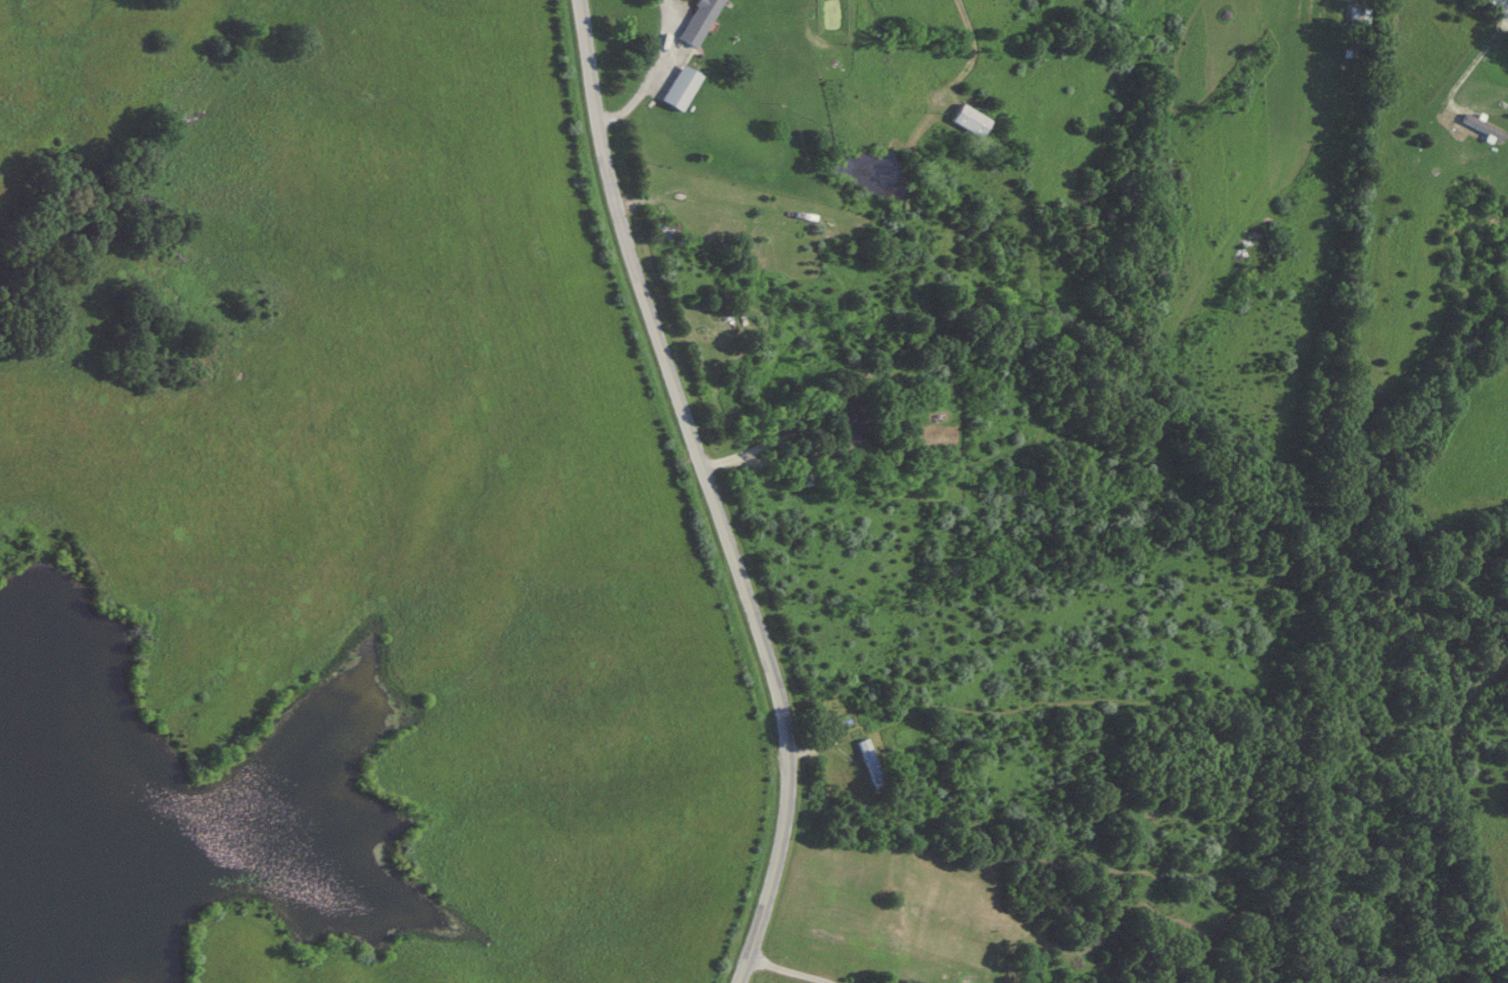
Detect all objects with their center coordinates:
road: (1498, 9)
road: (674, 13)
building: (699, 21)
building: (1355, 32)
building: (681, 87)
building: (971, 120)
building: (853, 420)
road: (819, 462)
building: (803, 476)
road: (710, 492)
building: (870, 763)
road: (794, 974)

